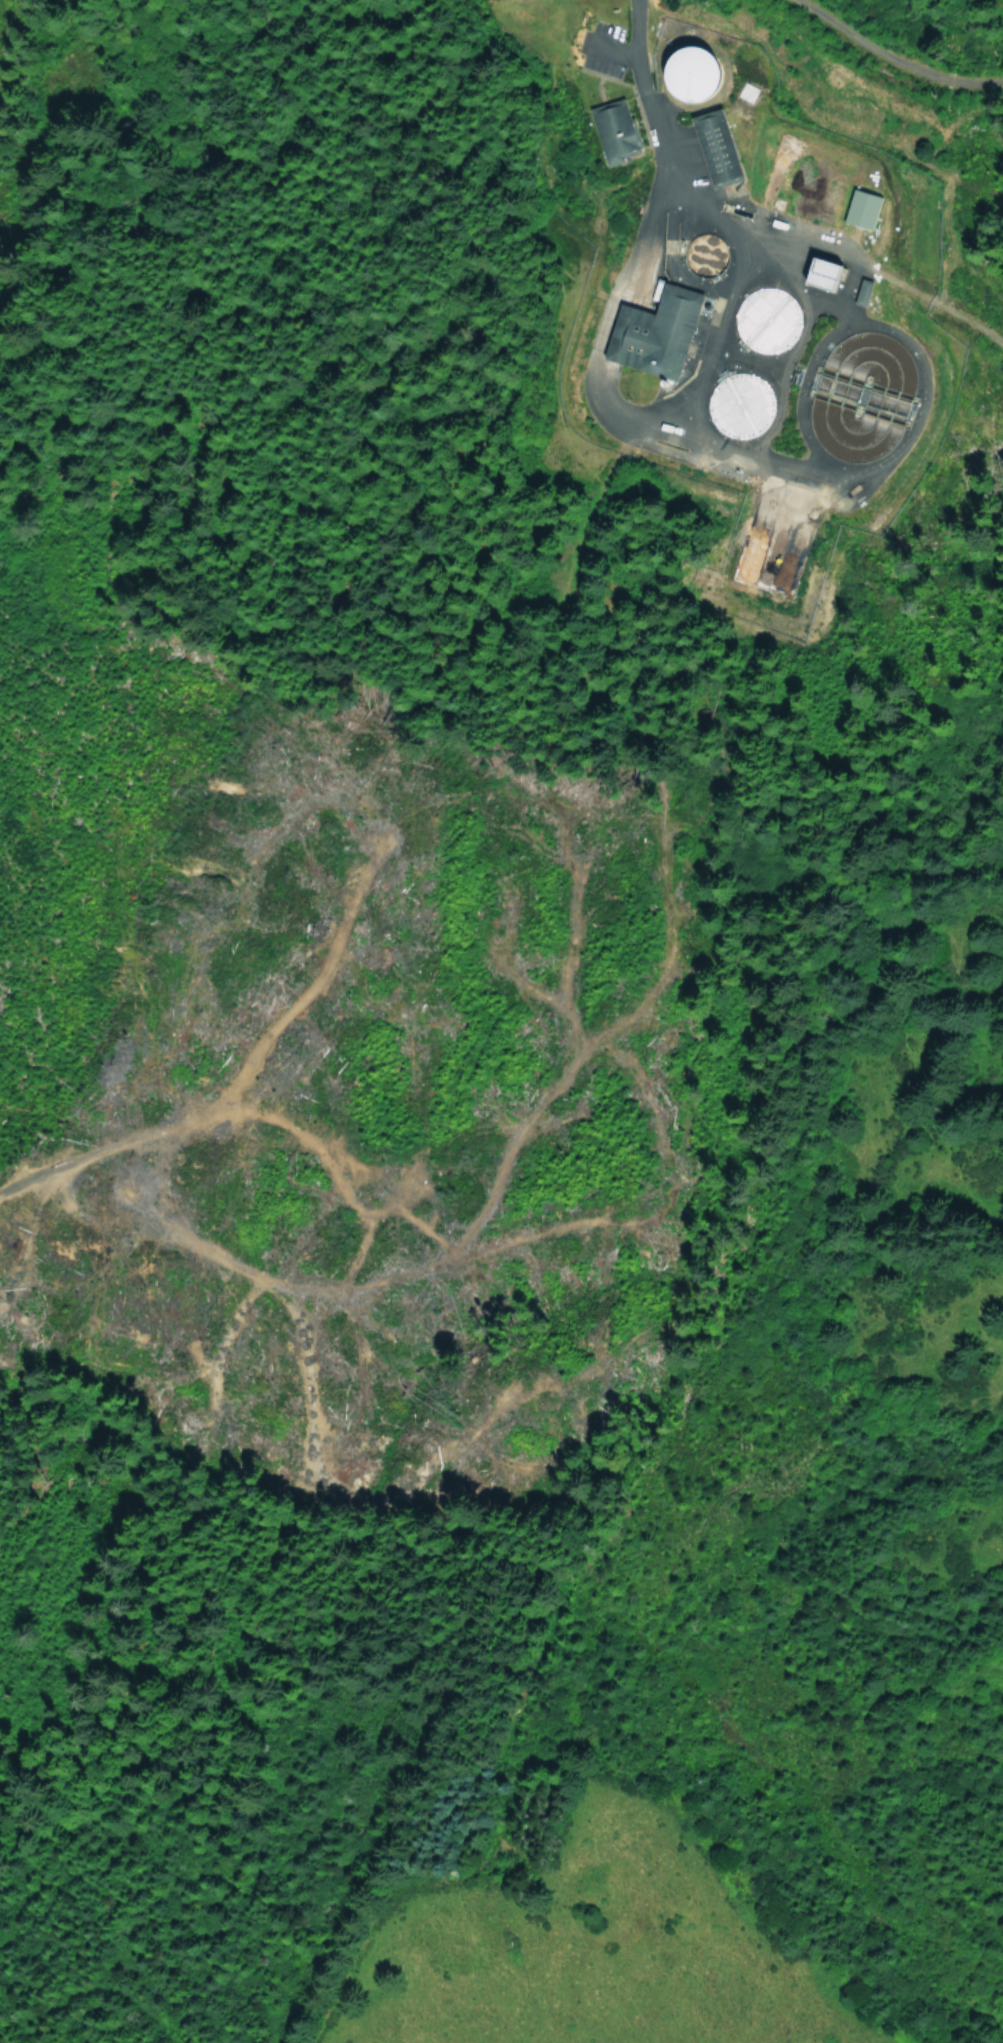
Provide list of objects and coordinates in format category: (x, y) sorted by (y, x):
parking lot: (602, 48)
road: (607, 49)
road: (892, 57)
storage tank: (690, 72)
building: (679, 74)
road: (636, 75)
building: (614, 132)
building: (715, 147)
building: (860, 208)
building: (822, 273)
building: (808, 274)
road: (793, 287)
building: (861, 291)
wastewater plant: (749, 306)
storage tank: (765, 319)
building: (654, 332)
road: (919, 393)
storage tank: (738, 404)
road: (649, 426)
road: (579, 454)
road: (551, 1090)
road: (639, 1214)
road: (252, 1274)
road: (534, 1870)

